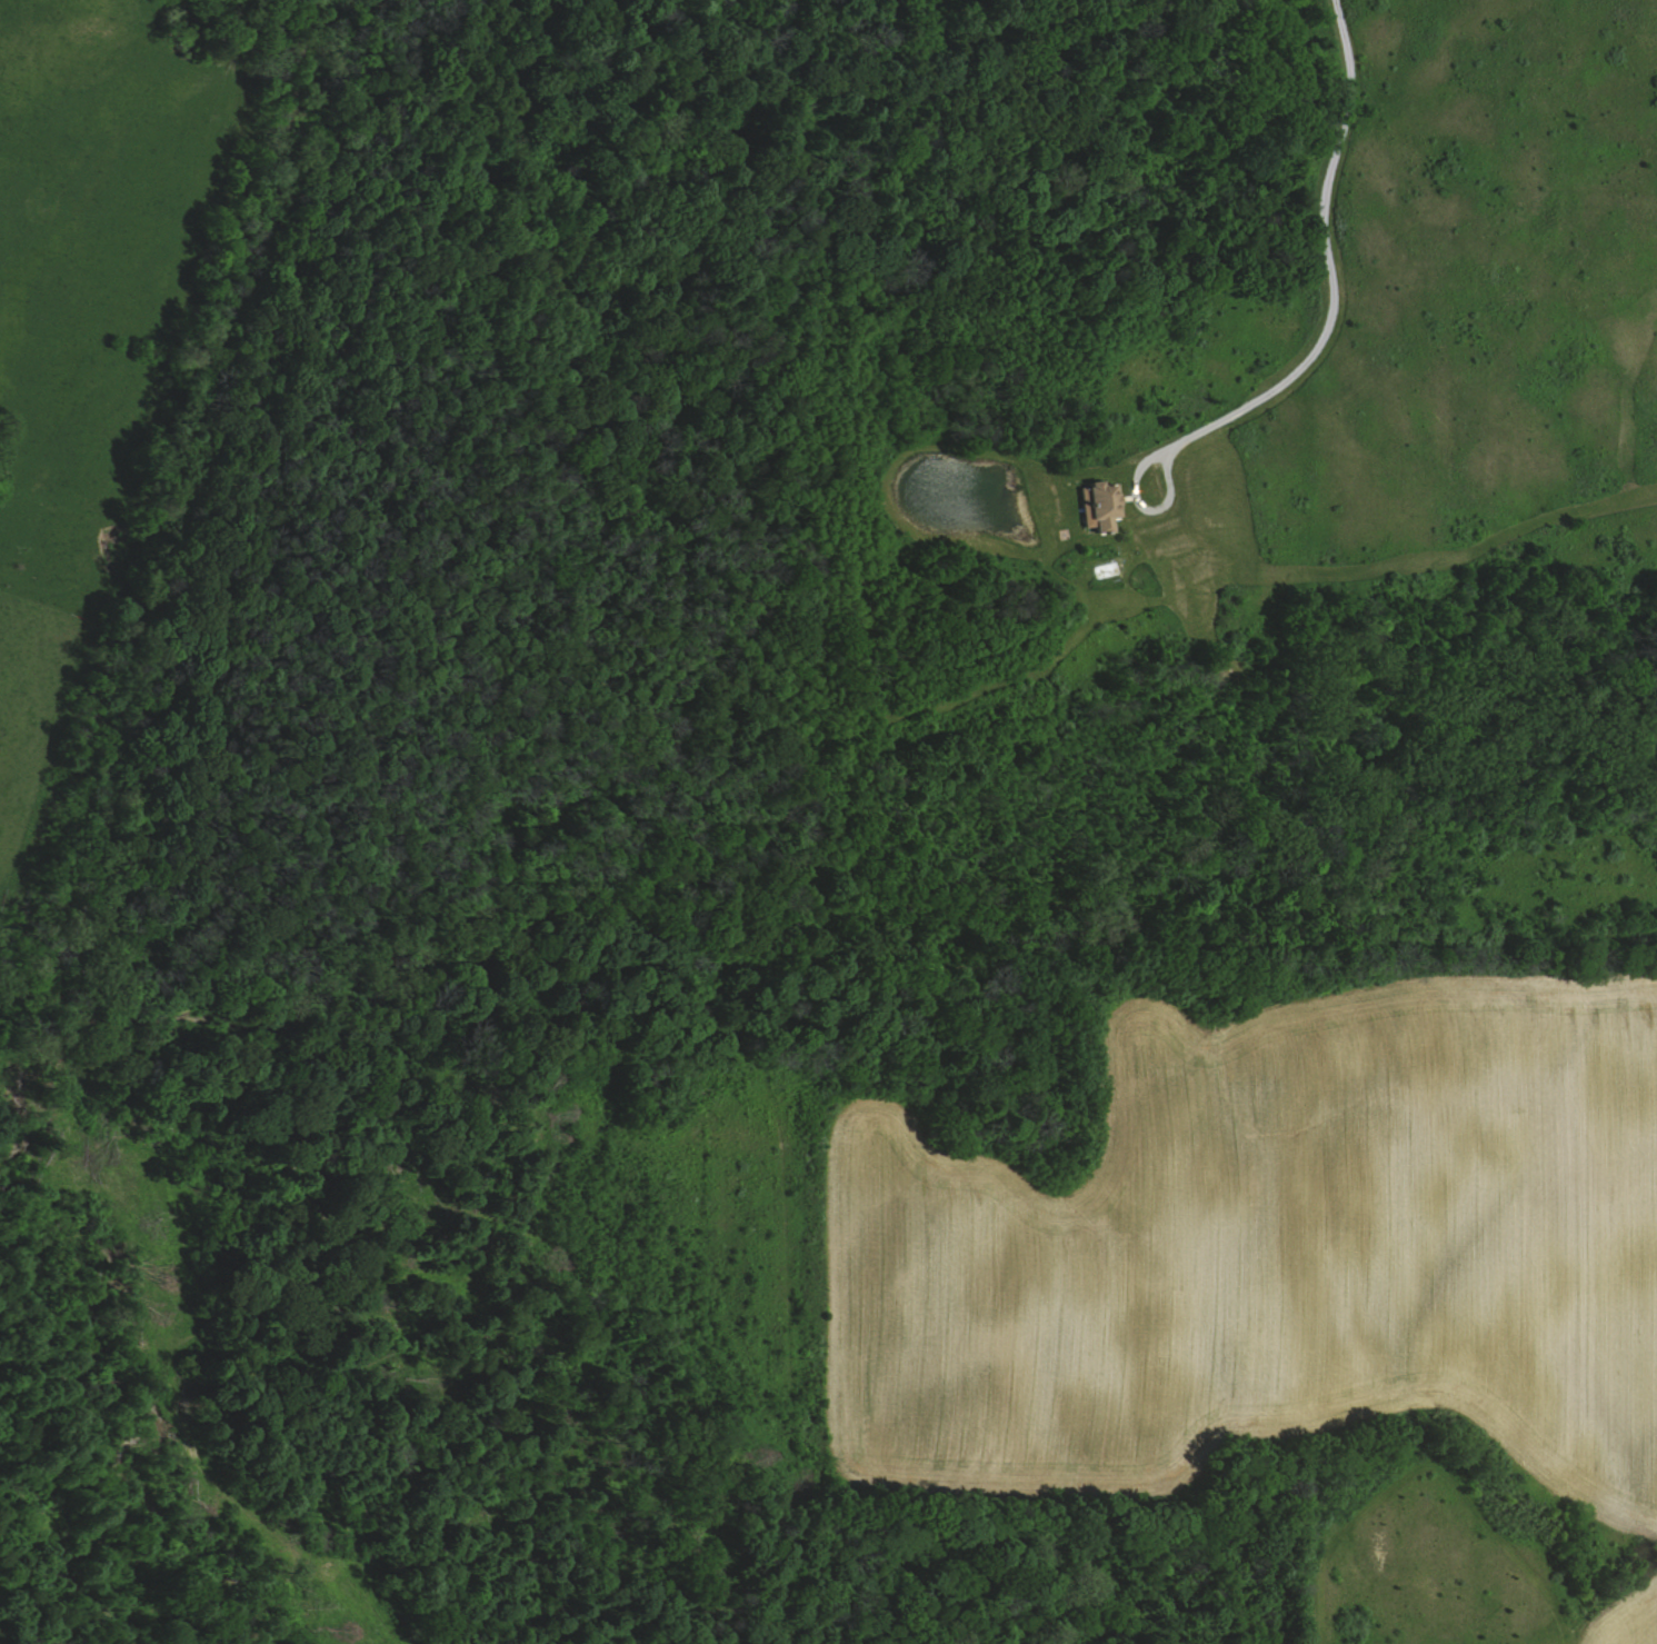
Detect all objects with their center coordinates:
road: (1331, 267)
road: (1146, 509)

